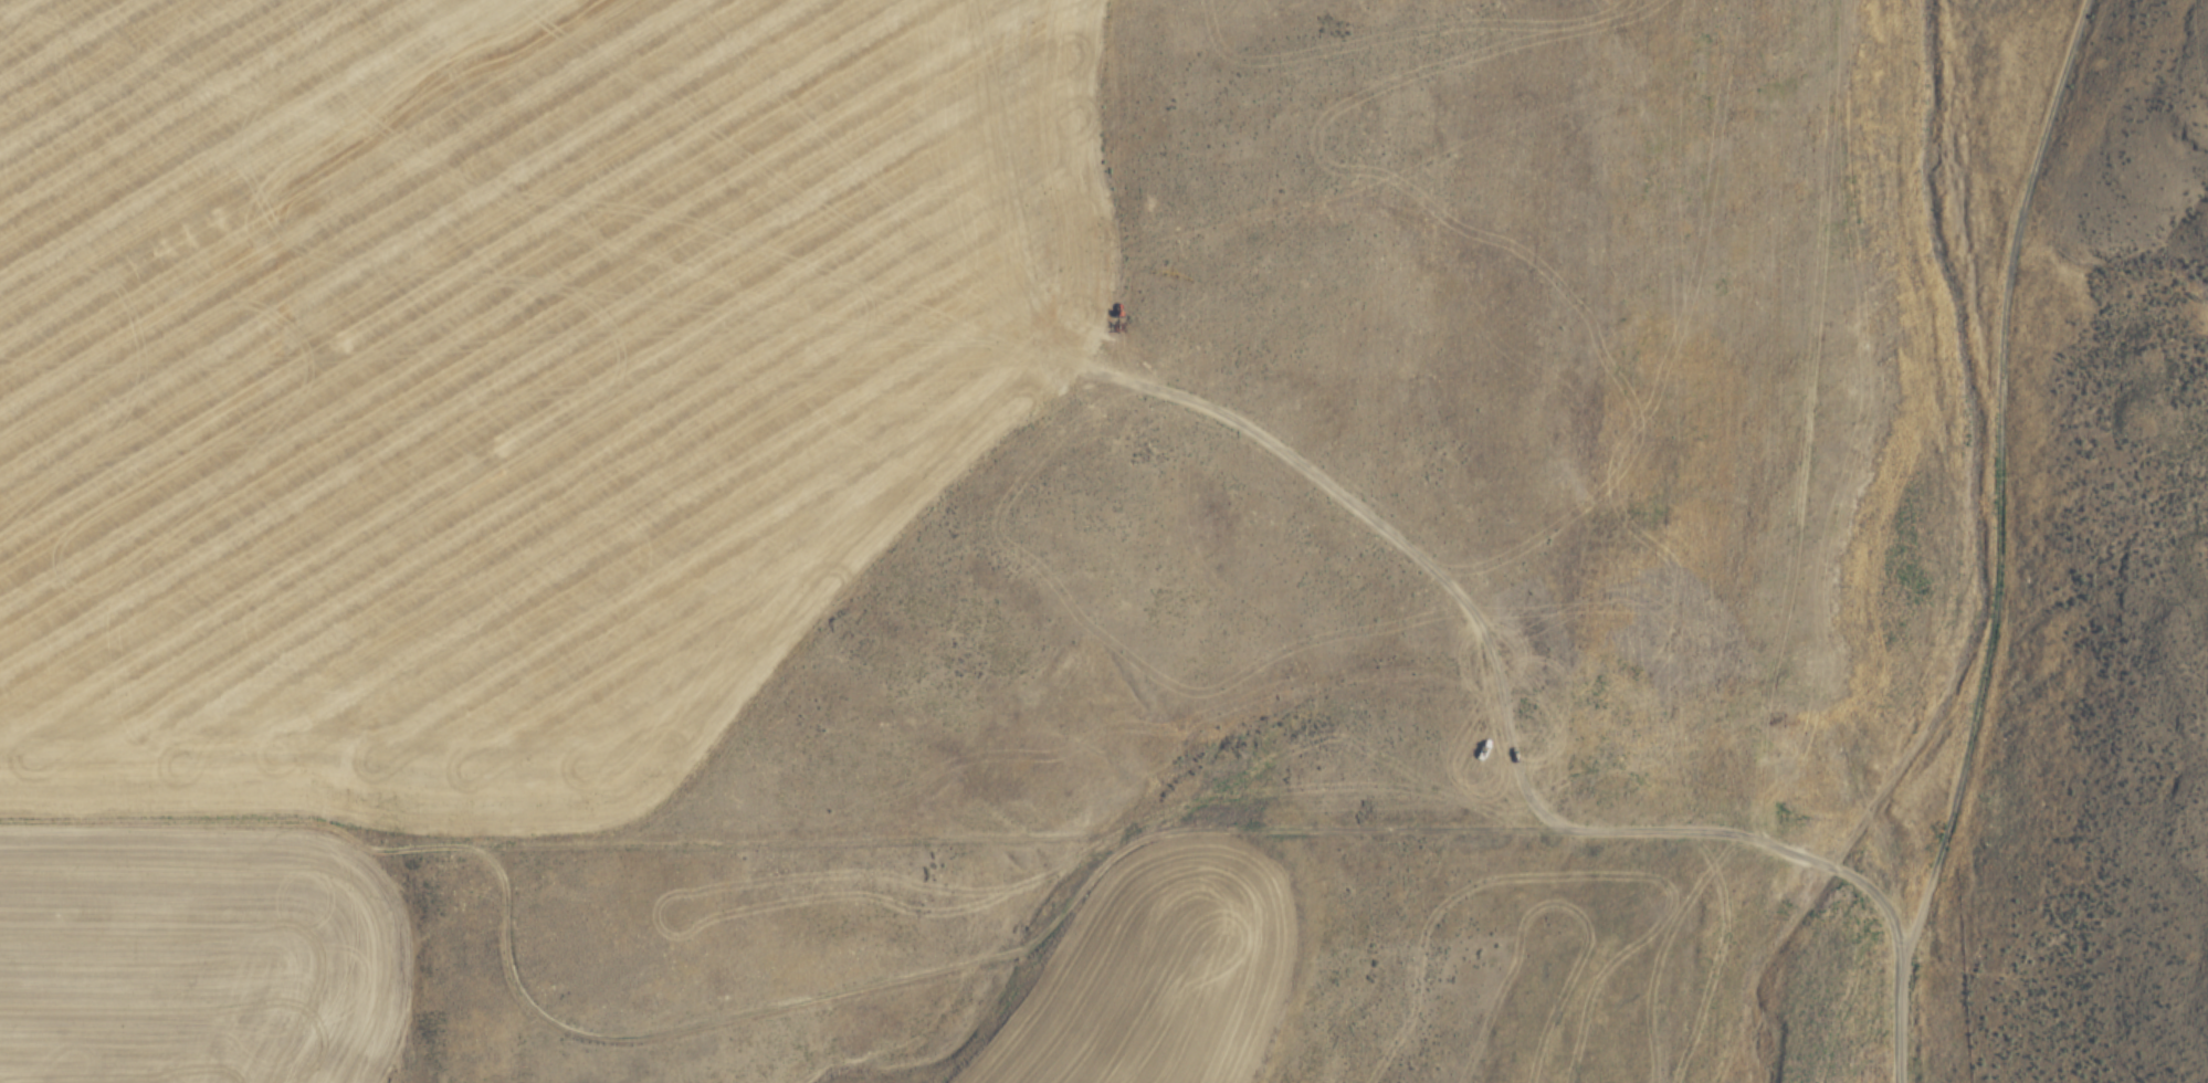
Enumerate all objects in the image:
road: (1986, 538)

